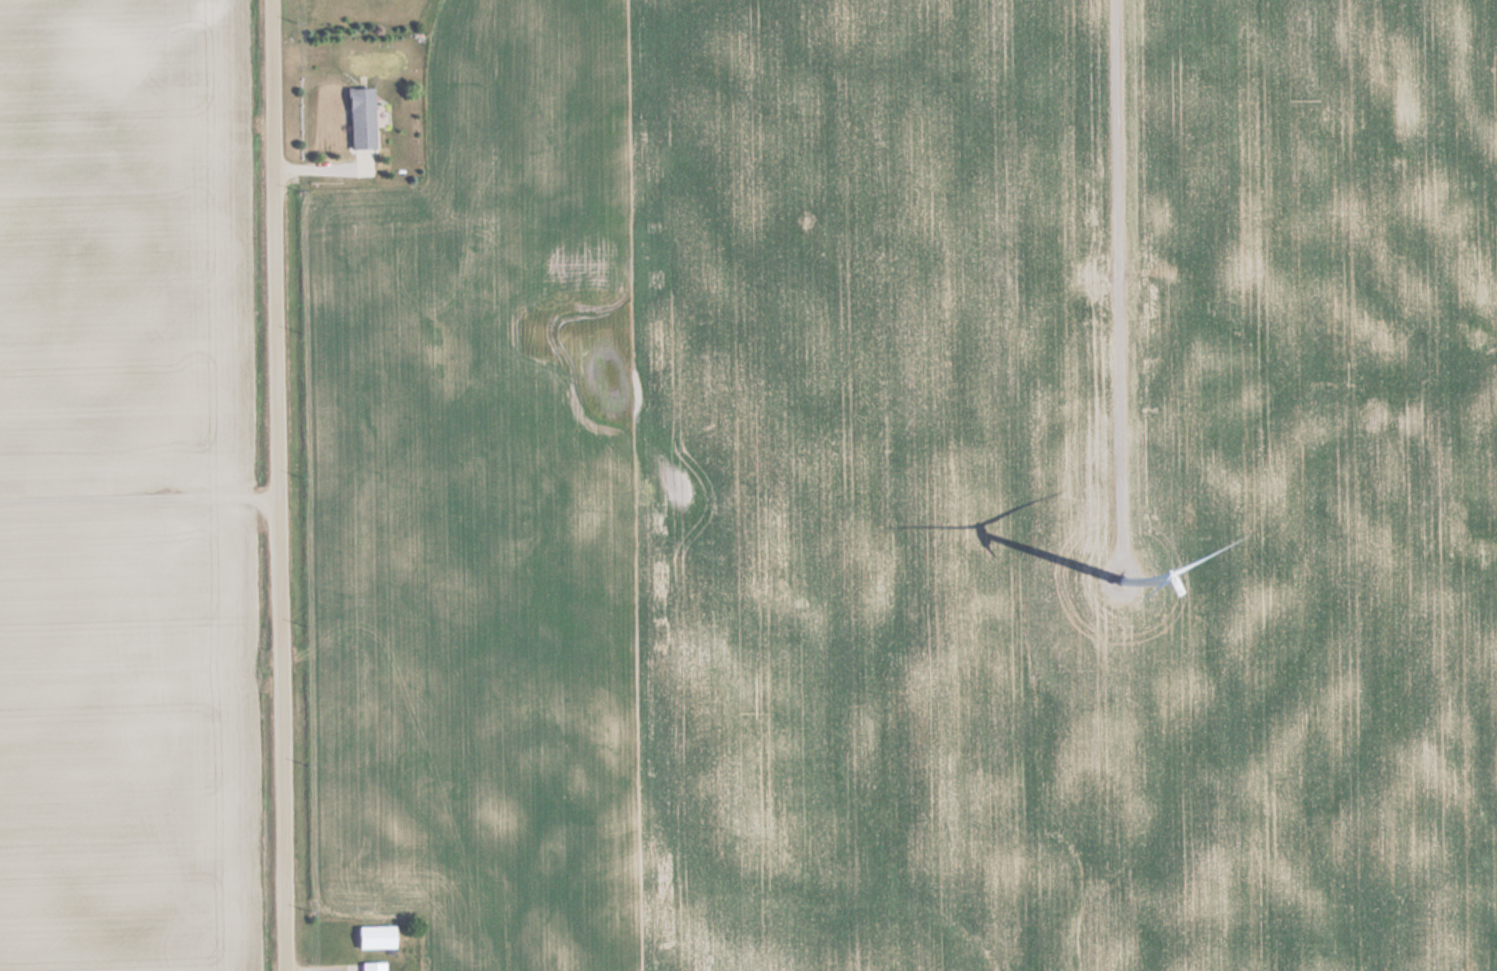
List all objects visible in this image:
building: (354, 118)
road: (1117, 275)
road: (276, 485)
road: (138, 502)
wind turbine: (1124, 582)
building: (369, 937)
building: (367, 966)

